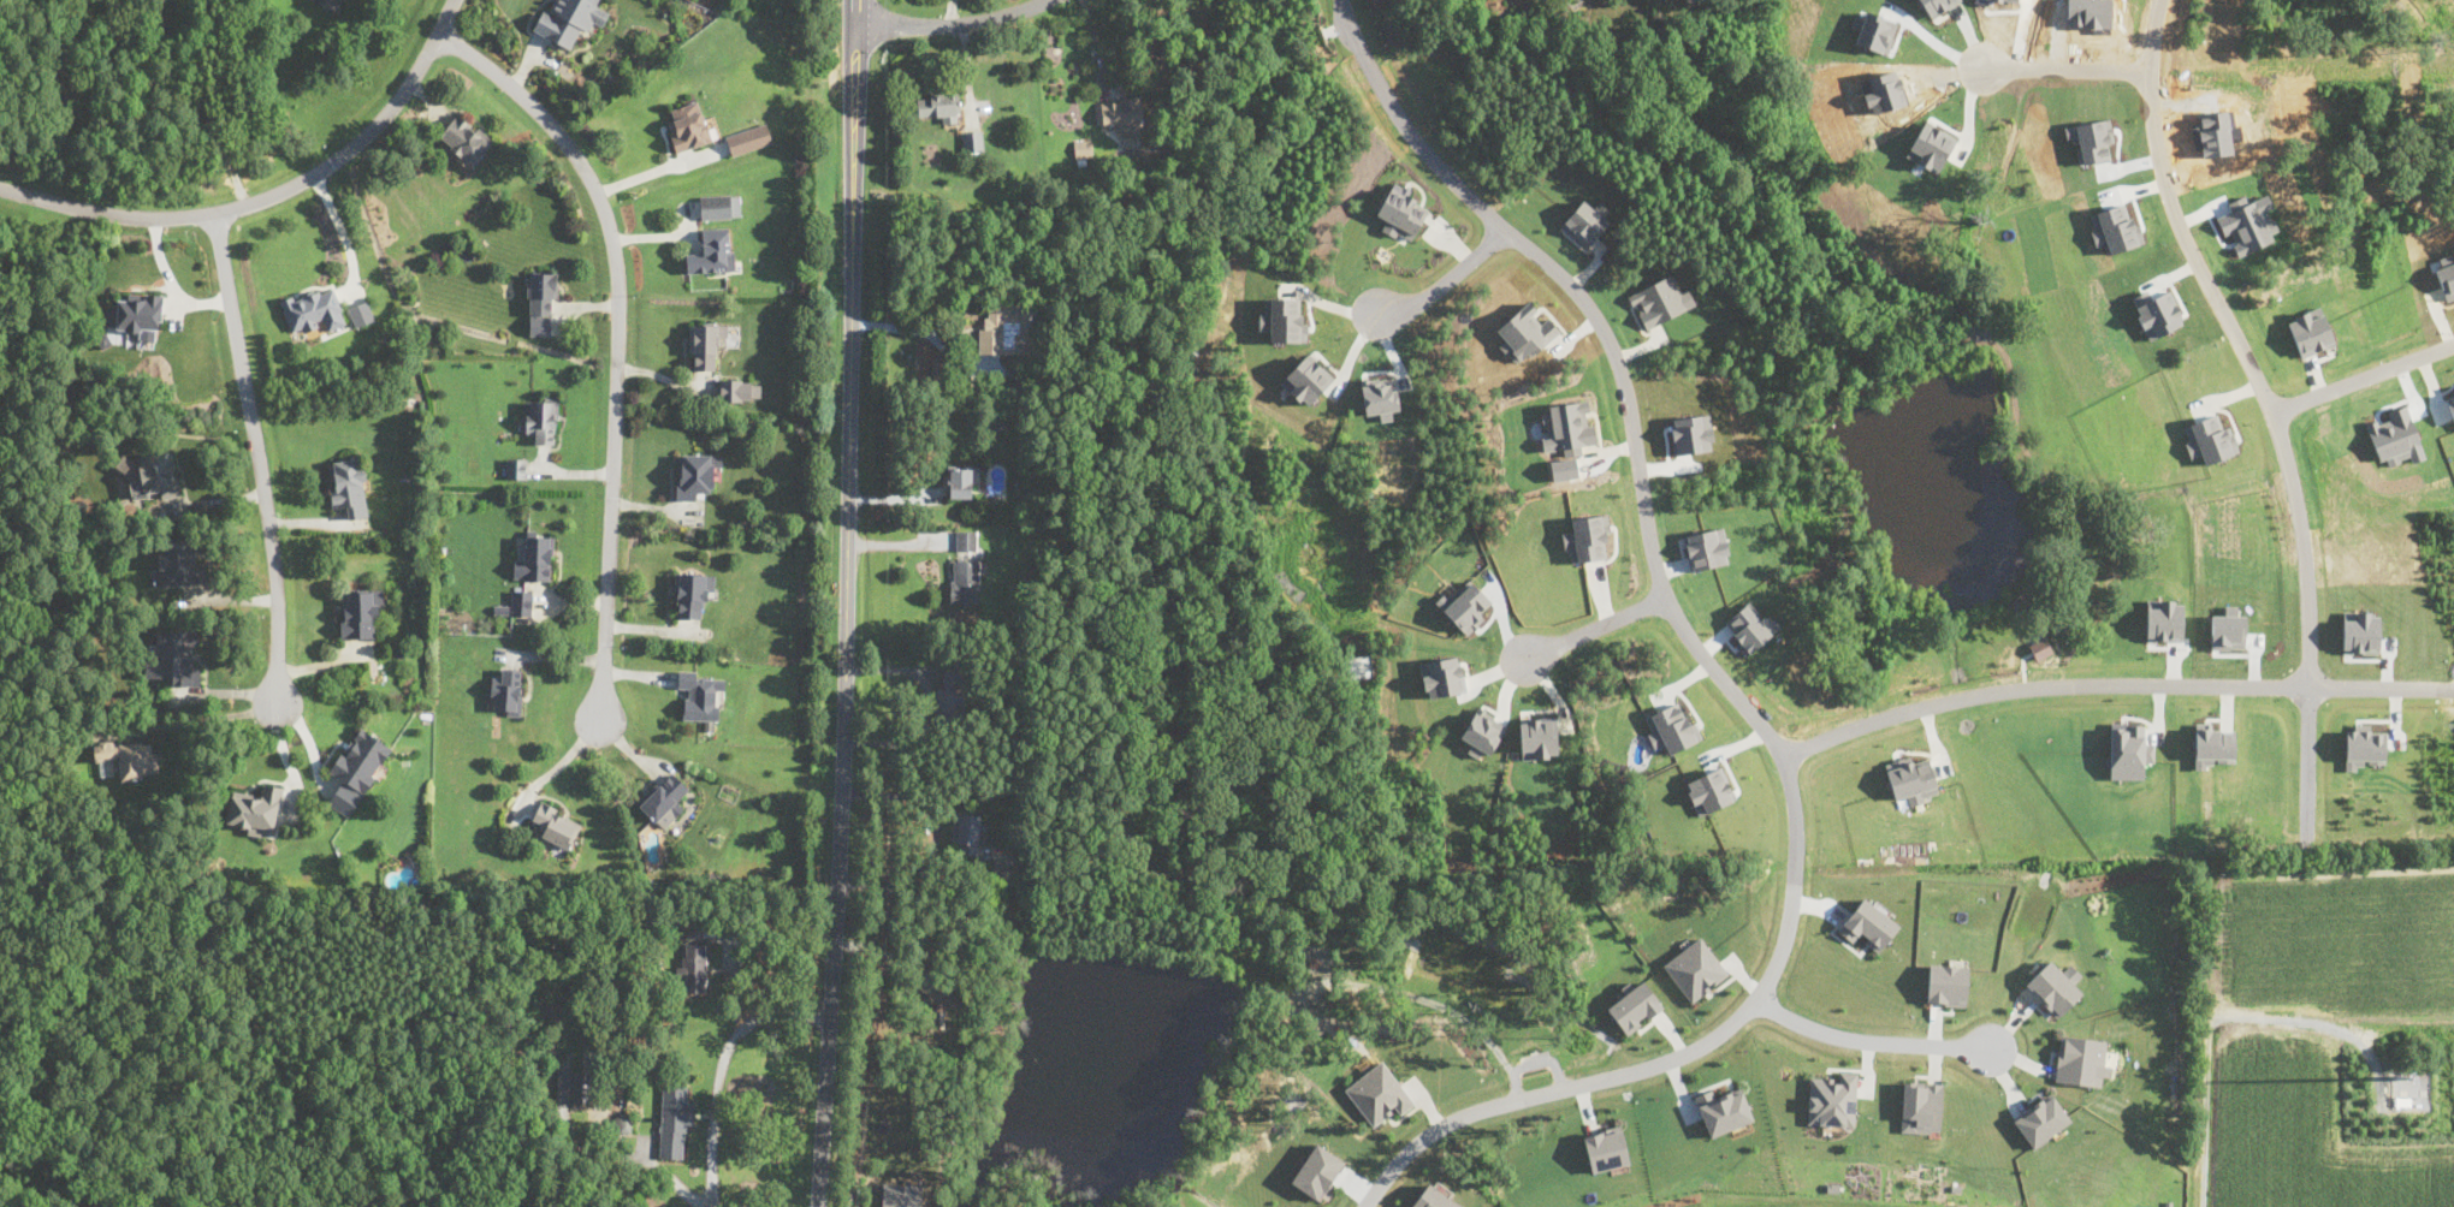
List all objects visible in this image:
building: (333, 4)
building: (569, 19)
road: (959, 28)
road: (1093, 47)
road: (2068, 63)
building: (938, 105)
building: (1122, 114)
building: (688, 126)
building: (466, 138)
building: (748, 138)
building: (972, 139)
building: (1083, 148)
road: (660, 168)
road: (271, 194)
building: (719, 206)
building: (1401, 213)
building: (1584, 224)
road: (343, 232)
building: (712, 250)
road: (1450, 279)
building: (541, 292)
building: (1659, 301)
building: (314, 308)
building: (360, 311)
building: (140, 315)
building: (1281, 317)
building: (1008, 329)
building: (2310, 331)
building: (1524, 332)
road: (618, 338)
building: (705, 344)
building: (1306, 379)
road: (2361, 379)
building: (740, 390)
building: (1379, 396)
building: (2450, 402)
road: (2266, 405)
building: (540, 417)
building: (1567, 428)
building: (1691, 433)
building: (2209, 439)
road: (257, 456)
building: (516, 468)
building: (695, 472)
building: (150, 475)
building: (961, 480)
building: (349, 486)
building: (1587, 537)
building: (965, 539)
building: (1706, 548)
building: (534, 555)
building: (179, 563)
building: (965, 581)
building: (693, 593)
building: (521, 601)
road: (846, 603)
building: (1464, 606)
building: (360, 611)
building: (2164, 619)
building: (1750, 625)
building: (2227, 628)
road: (1595, 629)
building: (2360, 631)
building: (2039, 646)
building: (174, 658)
building: (1441, 677)
road: (1725, 679)
road: (2114, 686)
building: (506, 691)
building: (701, 694)
building: (952, 695)
road: (221, 715)
building: (1671, 729)
building: (1482, 732)
building: (1537, 737)
building: (2212, 745)
building: (2363, 747)
building: (2128, 751)
building: (130, 756)
building: (361, 759)
road: (557, 766)
building: (1911, 780)
building: (1709, 790)
building: (665, 797)
building: (344, 798)
building: (254, 810)
building: (557, 824)
building: (967, 833)
building: (1000, 857)
building: (1868, 924)
building: (692, 968)
building: (1695, 969)
building: (1946, 983)
building: (2053, 988)
road: (1441, 994)
building: (1634, 1006)
road: (2233, 1012)
road: (1869, 1041)
road: (1534, 1051)
building: (2080, 1060)
road: (721, 1070)
building: (573, 1086)
building: (1377, 1093)
building: (1831, 1100)
building: (1921, 1106)
building: (1721, 1111)
building: (2041, 1120)
building: (675, 1123)
building: (624, 1124)
building: (1606, 1149)
building: (1317, 1171)
road: (665, 1175)
building: (899, 1195)
building: (1434, 1199)

